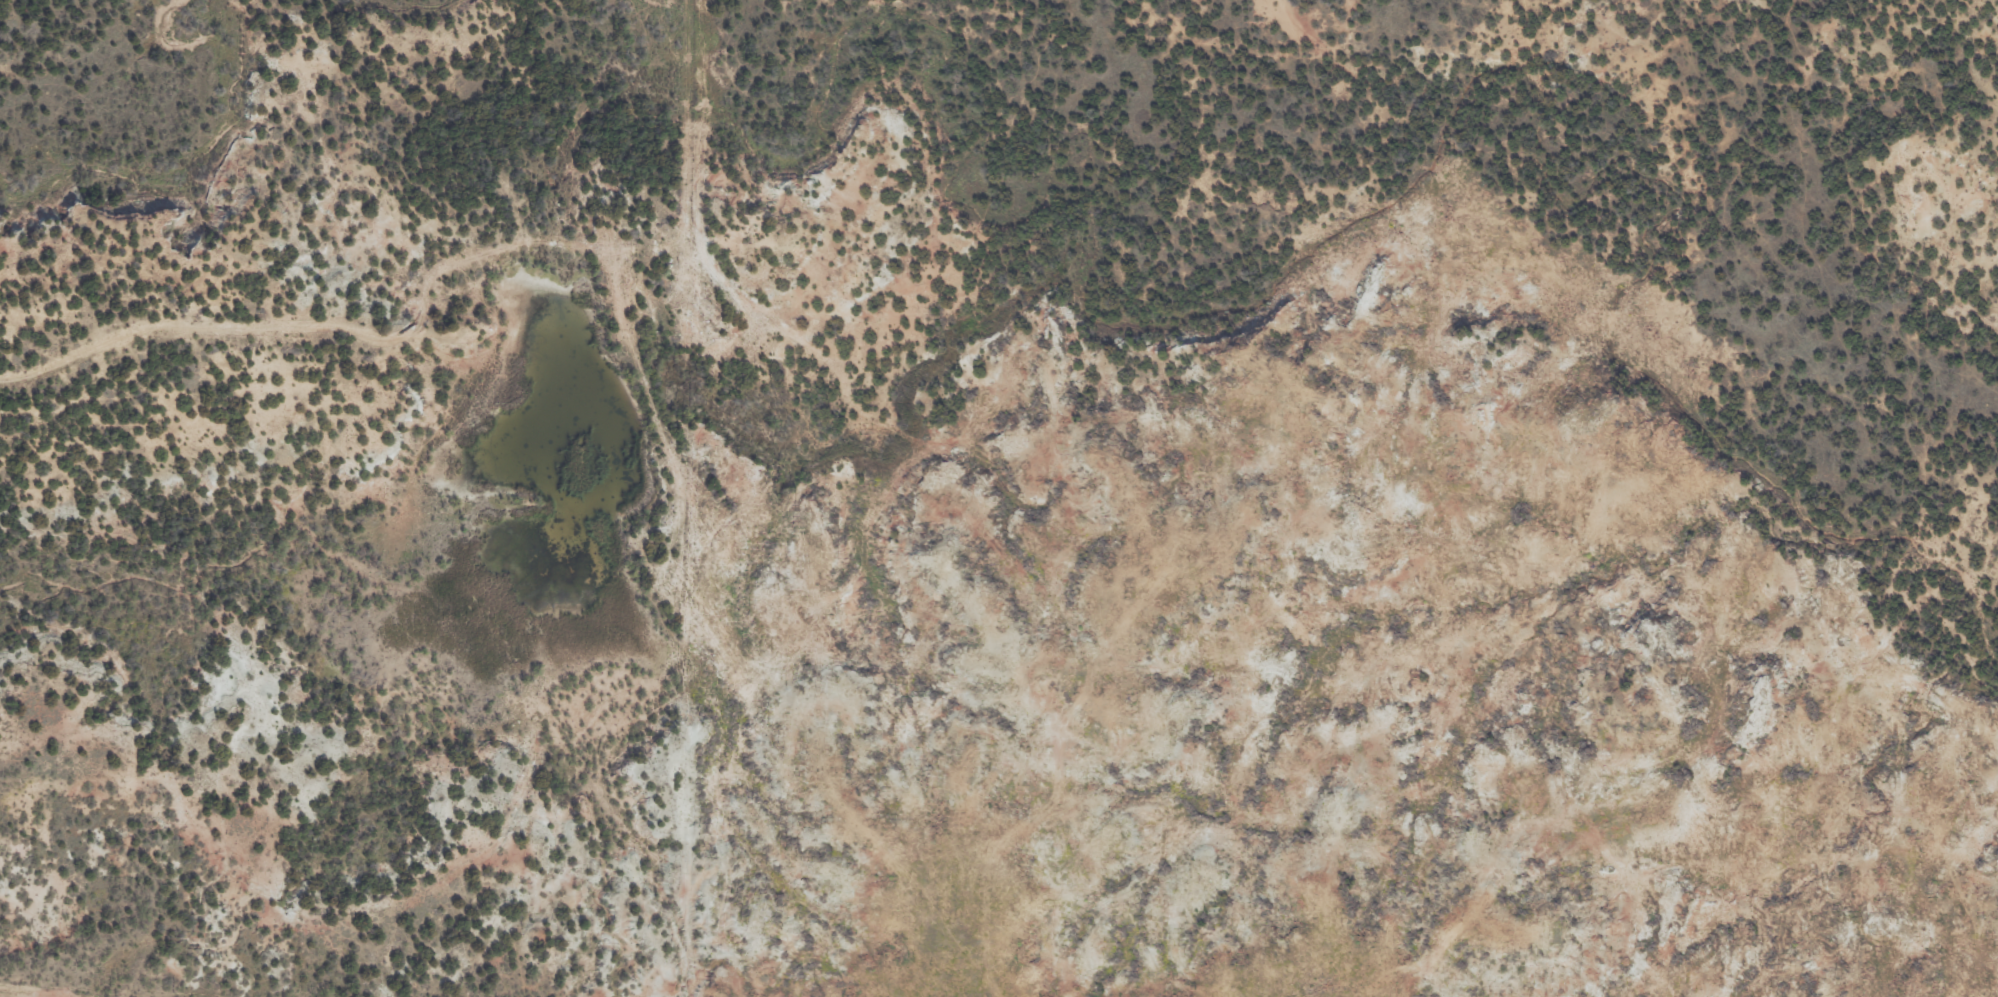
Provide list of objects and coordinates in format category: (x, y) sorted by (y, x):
road: (106, 984)

